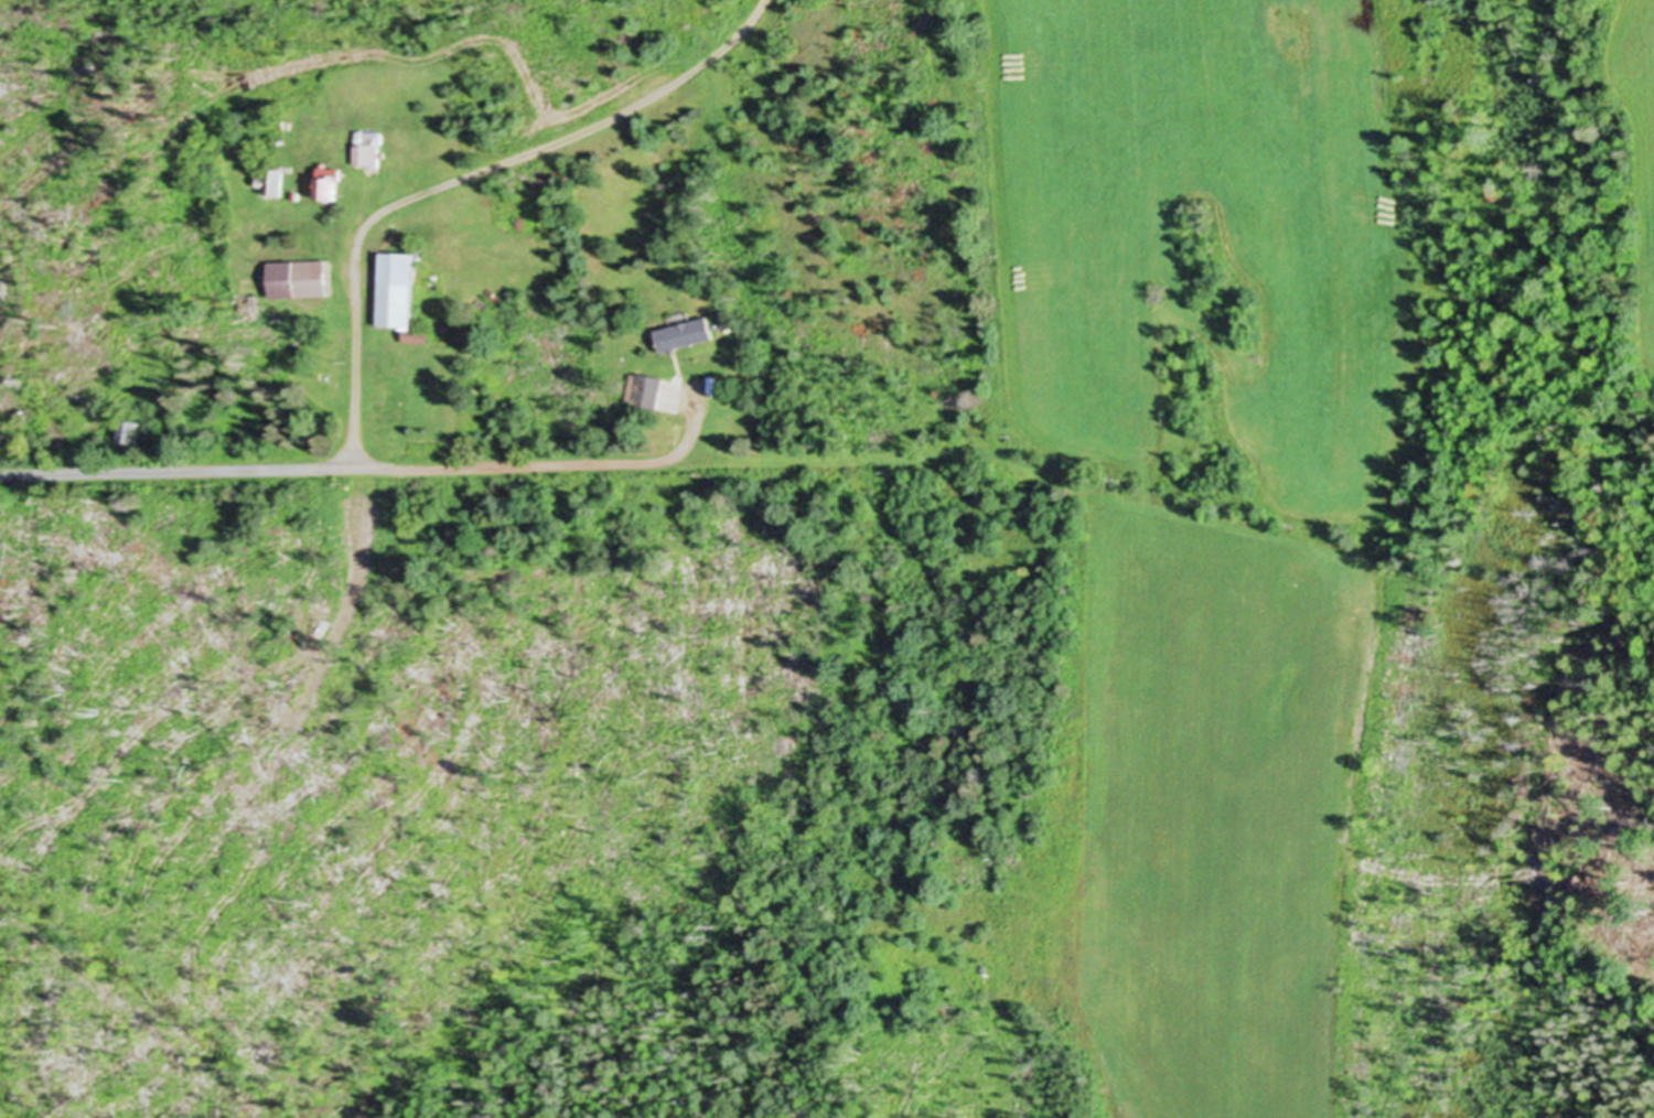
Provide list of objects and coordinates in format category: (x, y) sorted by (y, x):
building: (368, 148)
building: (273, 180)
building: (331, 186)
building: (300, 277)
building: (400, 289)
road: (354, 304)
building: (686, 333)
building: (648, 390)
building: (132, 430)
road: (174, 470)

